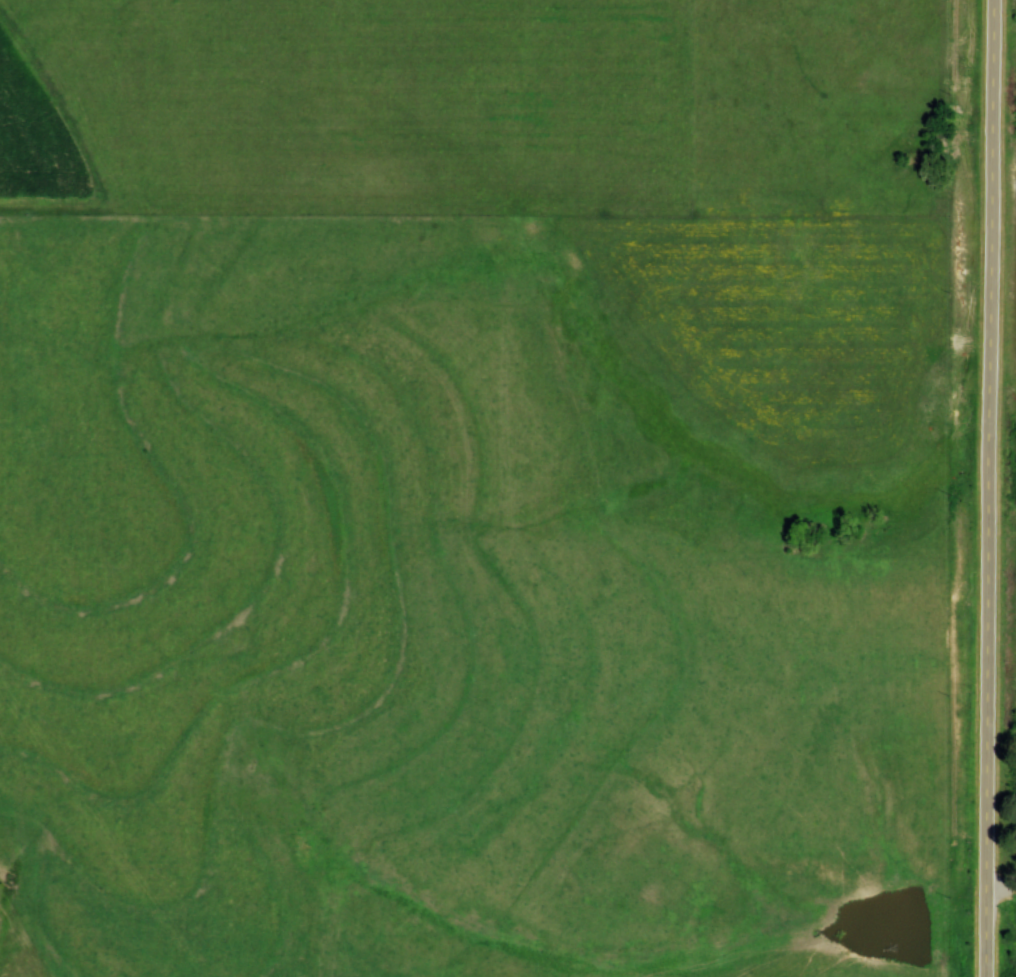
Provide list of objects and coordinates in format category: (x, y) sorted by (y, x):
road: (995, 488)
road: (1004, 897)

